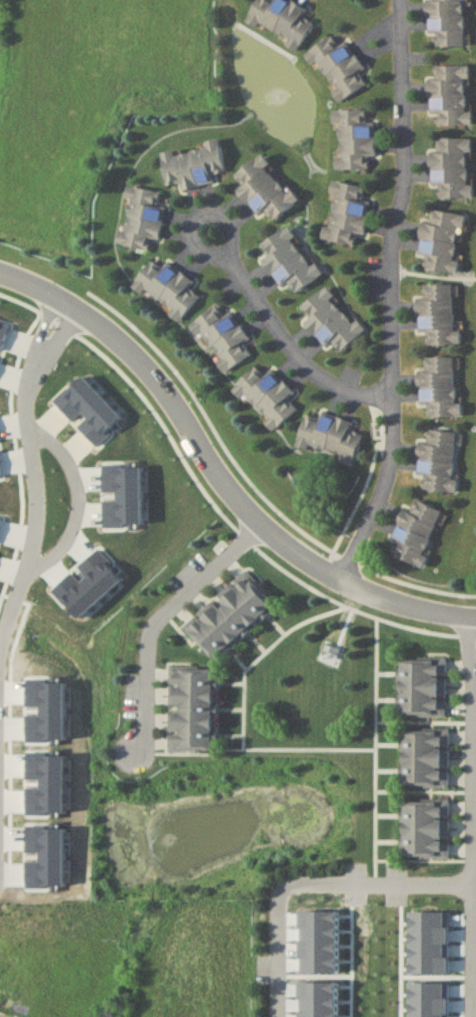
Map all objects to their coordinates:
building: (282, 20)
building: (446, 21)
building: (338, 67)
building: (449, 94)
building: (353, 139)
building: (193, 164)
building: (452, 167)
building: (263, 187)
building: (346, 213)
building: (142, 218)
building: (441, 240)
building: (288, 260)
building: (166, 287)
road: (249, 288)
road: (391, 296)
building: (437, 314)
building: (330, 319)
building: (223, 337)
building: (439, 386)
building: (267, 395)
building: (329, 436)
building: (437, 460)
road: (215, 476)
road: (79, 503)
building: (414, 533)
road: (28, 569)
building: (230, 615)
road: (163, 622)
building: (423, 686)
building: (192, 708)
building: (426, 757)
road: (467, 819)
building: (426, 828)
road: (1, 842)
road: (300, 881)

